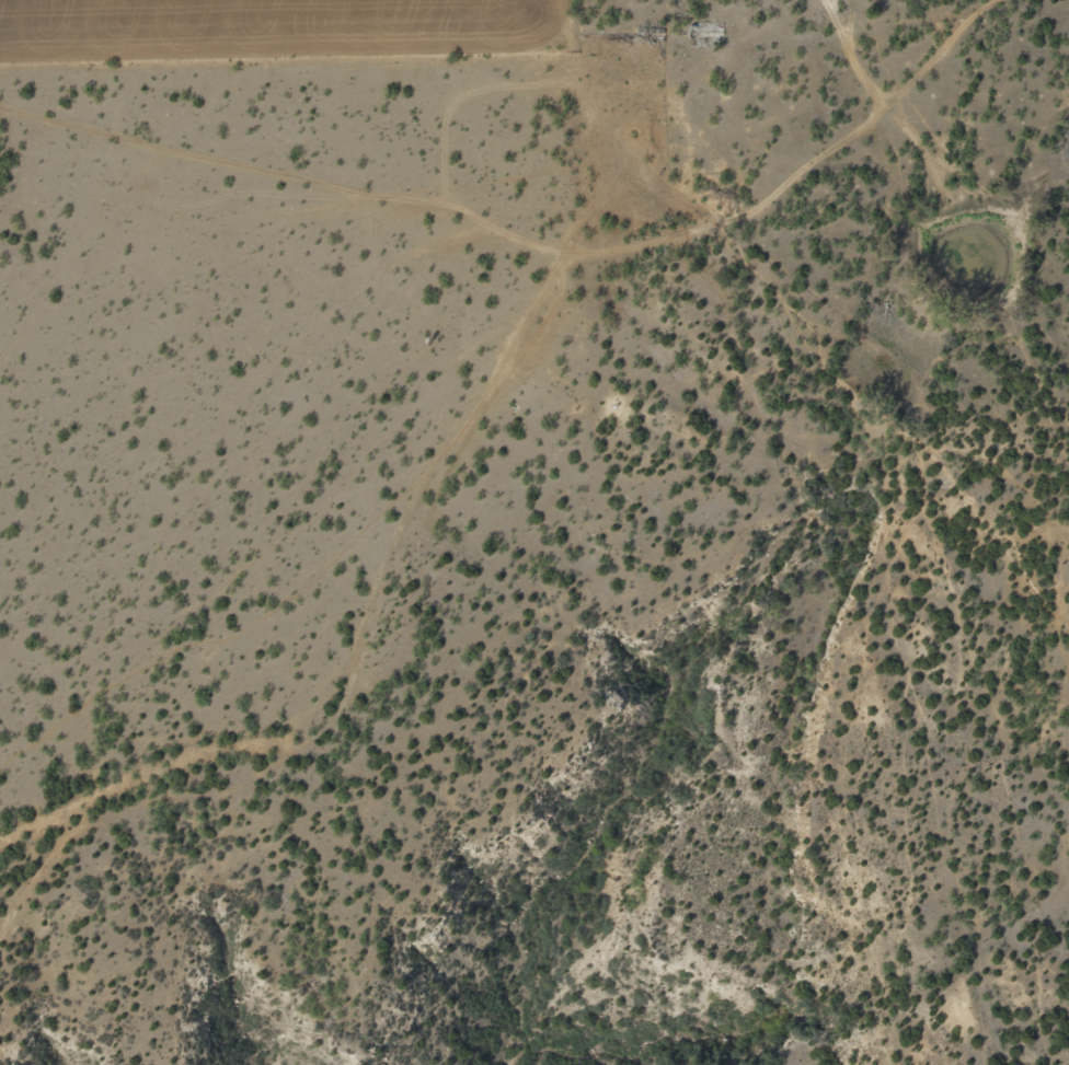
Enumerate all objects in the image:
building: (705, 33)
road: (824, 174)
road: (294, 323)
road: (378, 760)

